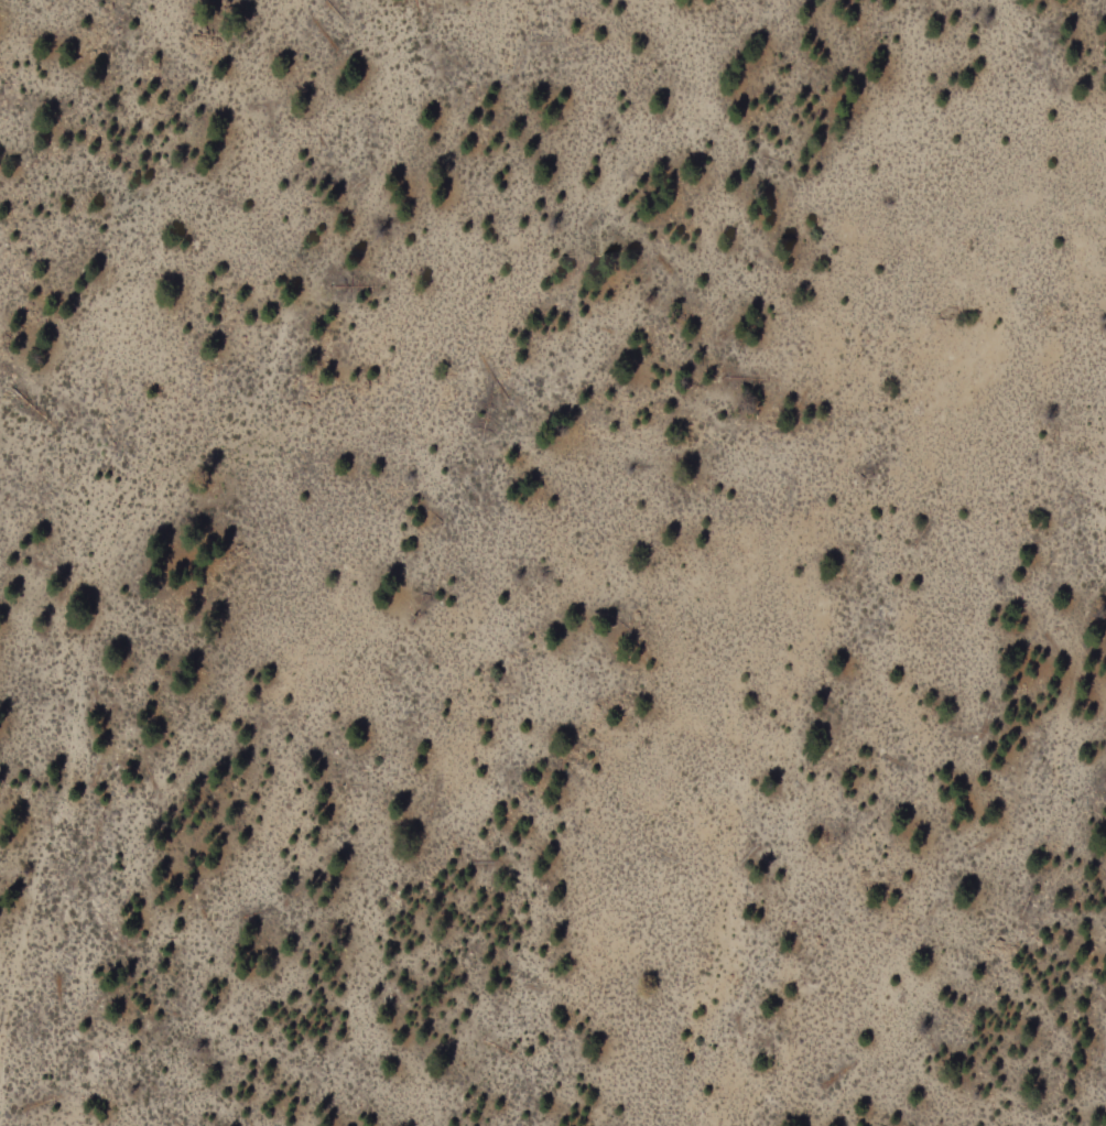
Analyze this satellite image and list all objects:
road: (155, 531)

